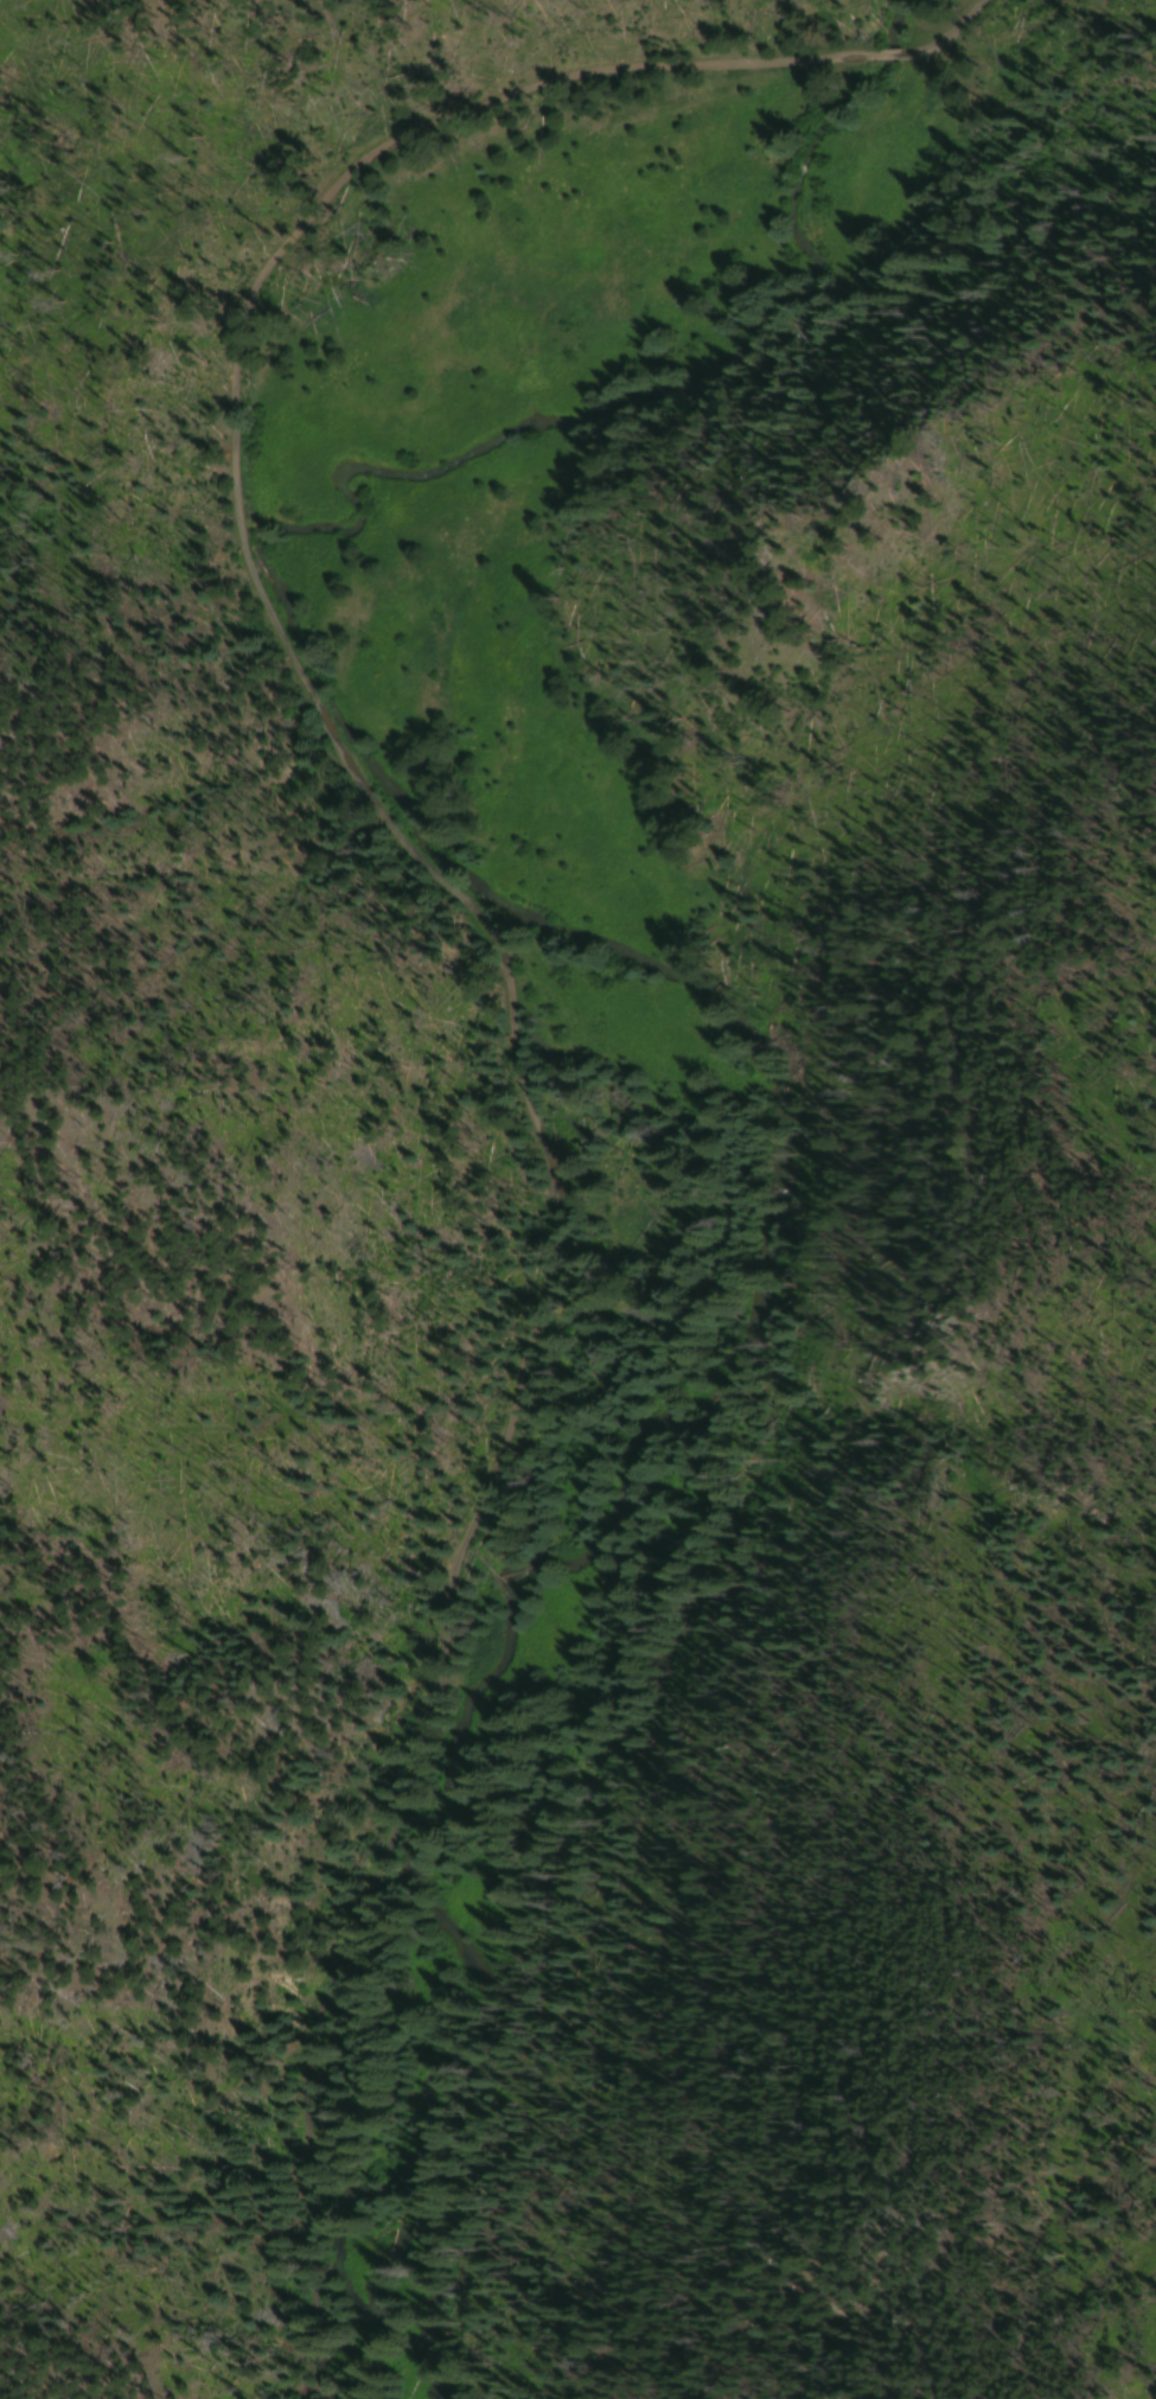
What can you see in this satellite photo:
road: (945, 32)
road: (886, 55)
road: (505, 978)
river: (755, 1065)

